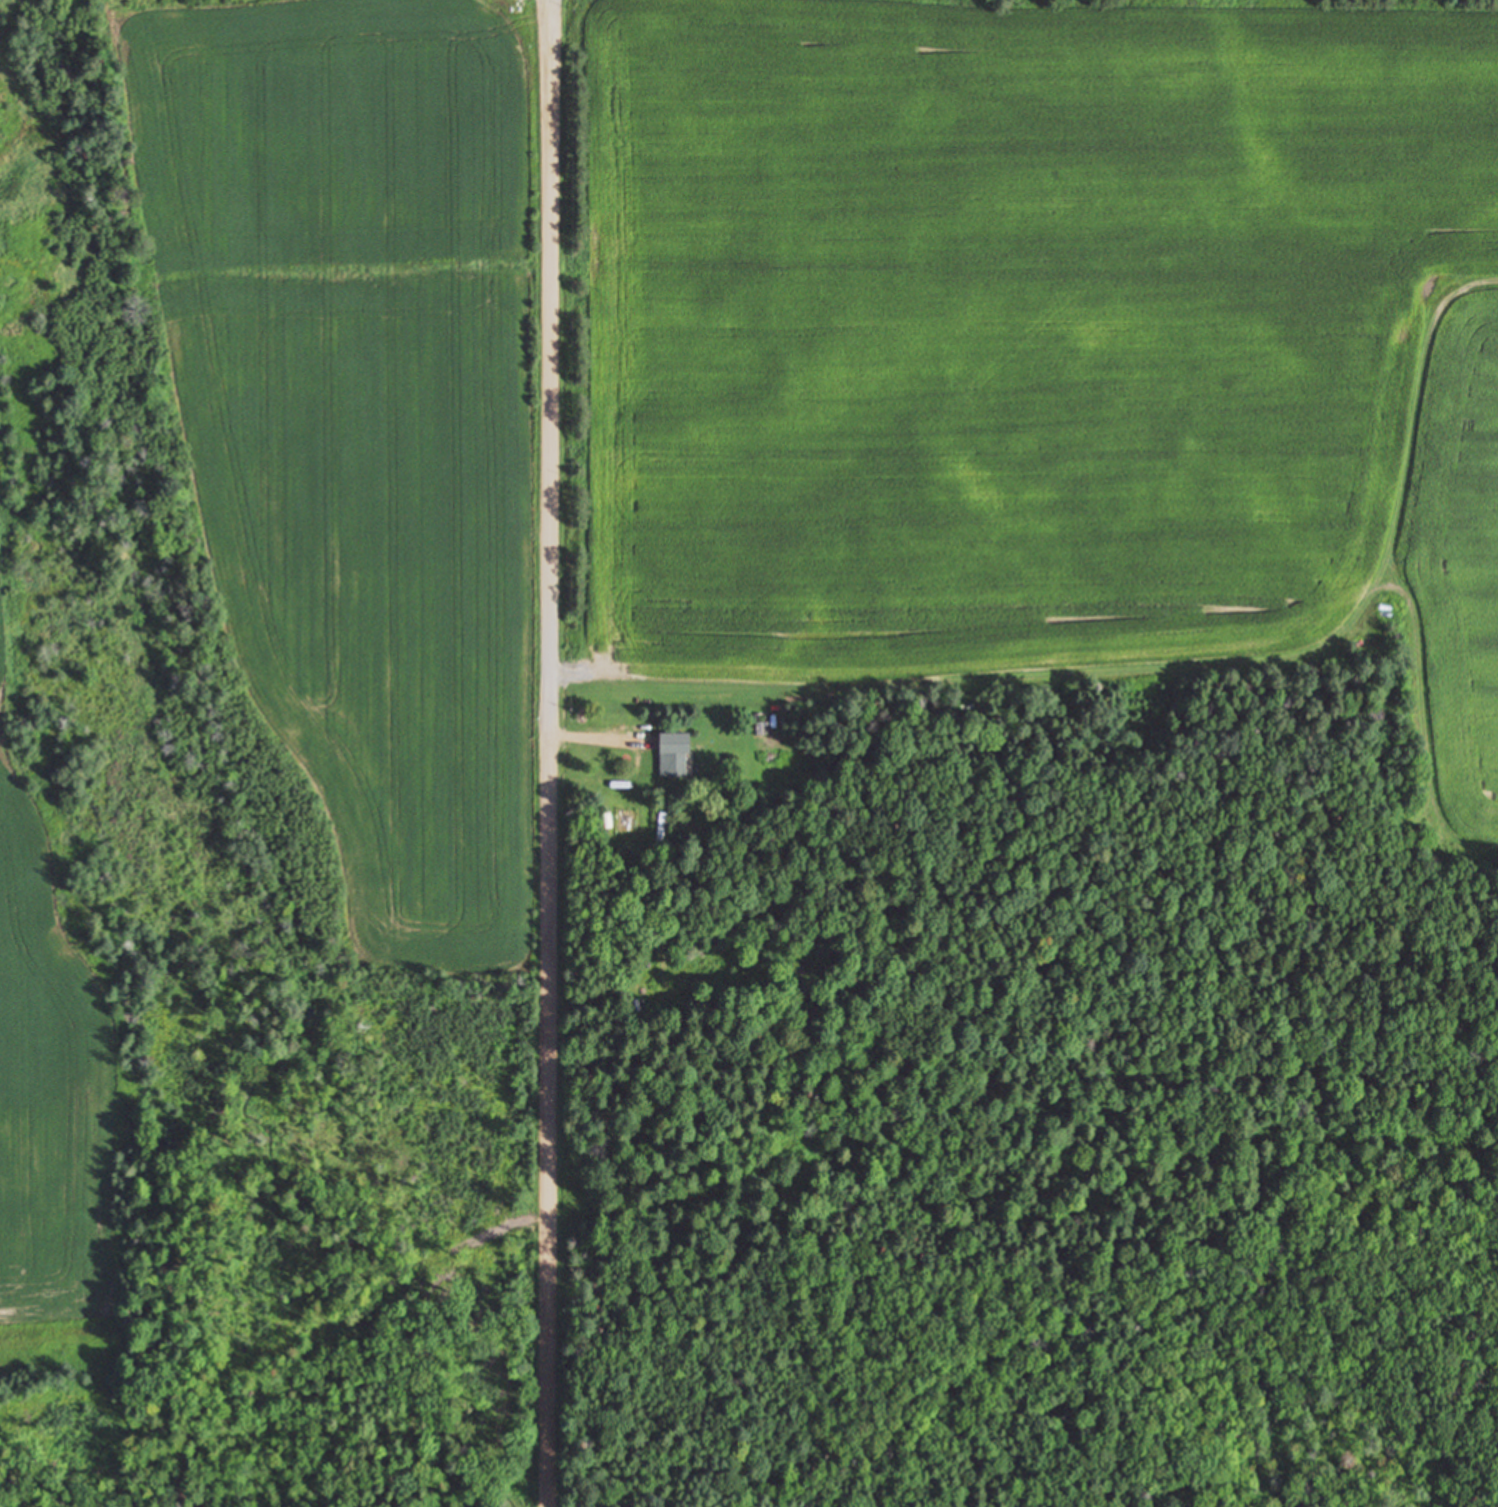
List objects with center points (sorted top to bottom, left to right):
road: (551, 753)
building: (669, 756)
building: (623, 824)

